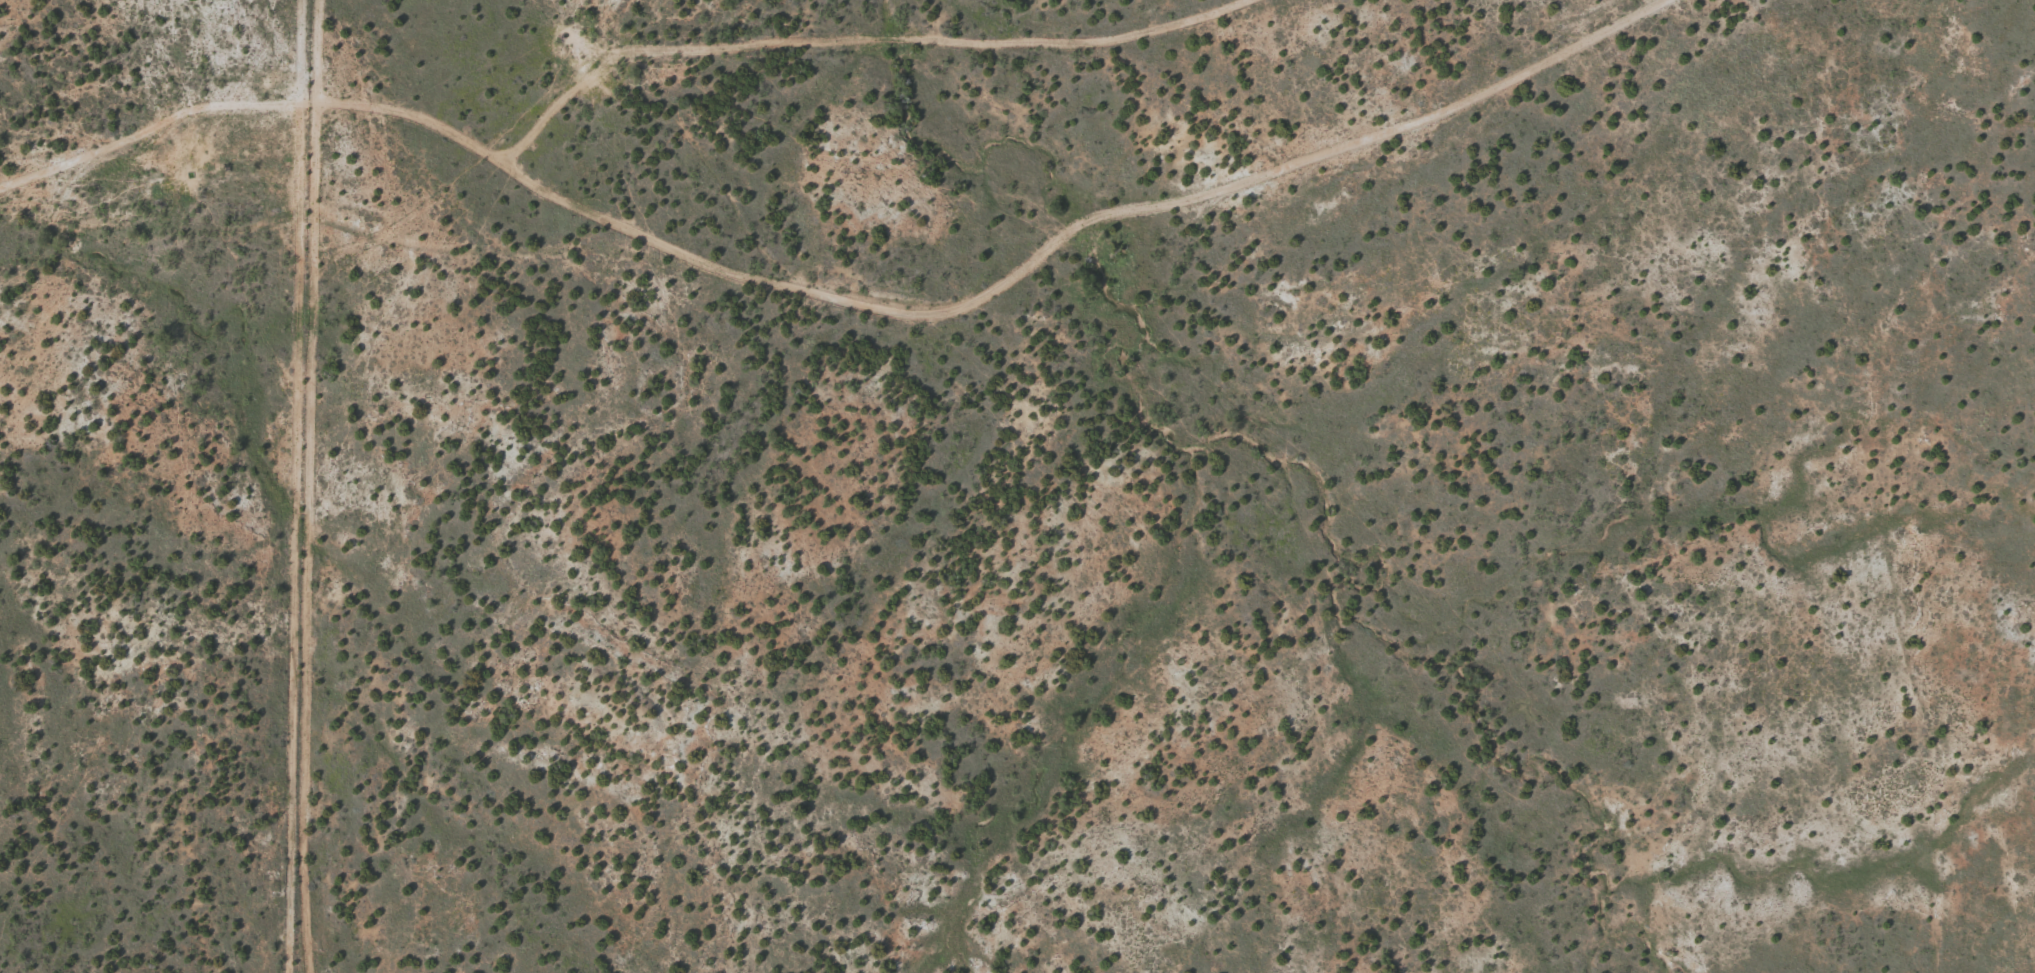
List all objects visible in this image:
road: (2029, 4)
road: (849, 71)
road: (856, 312)

